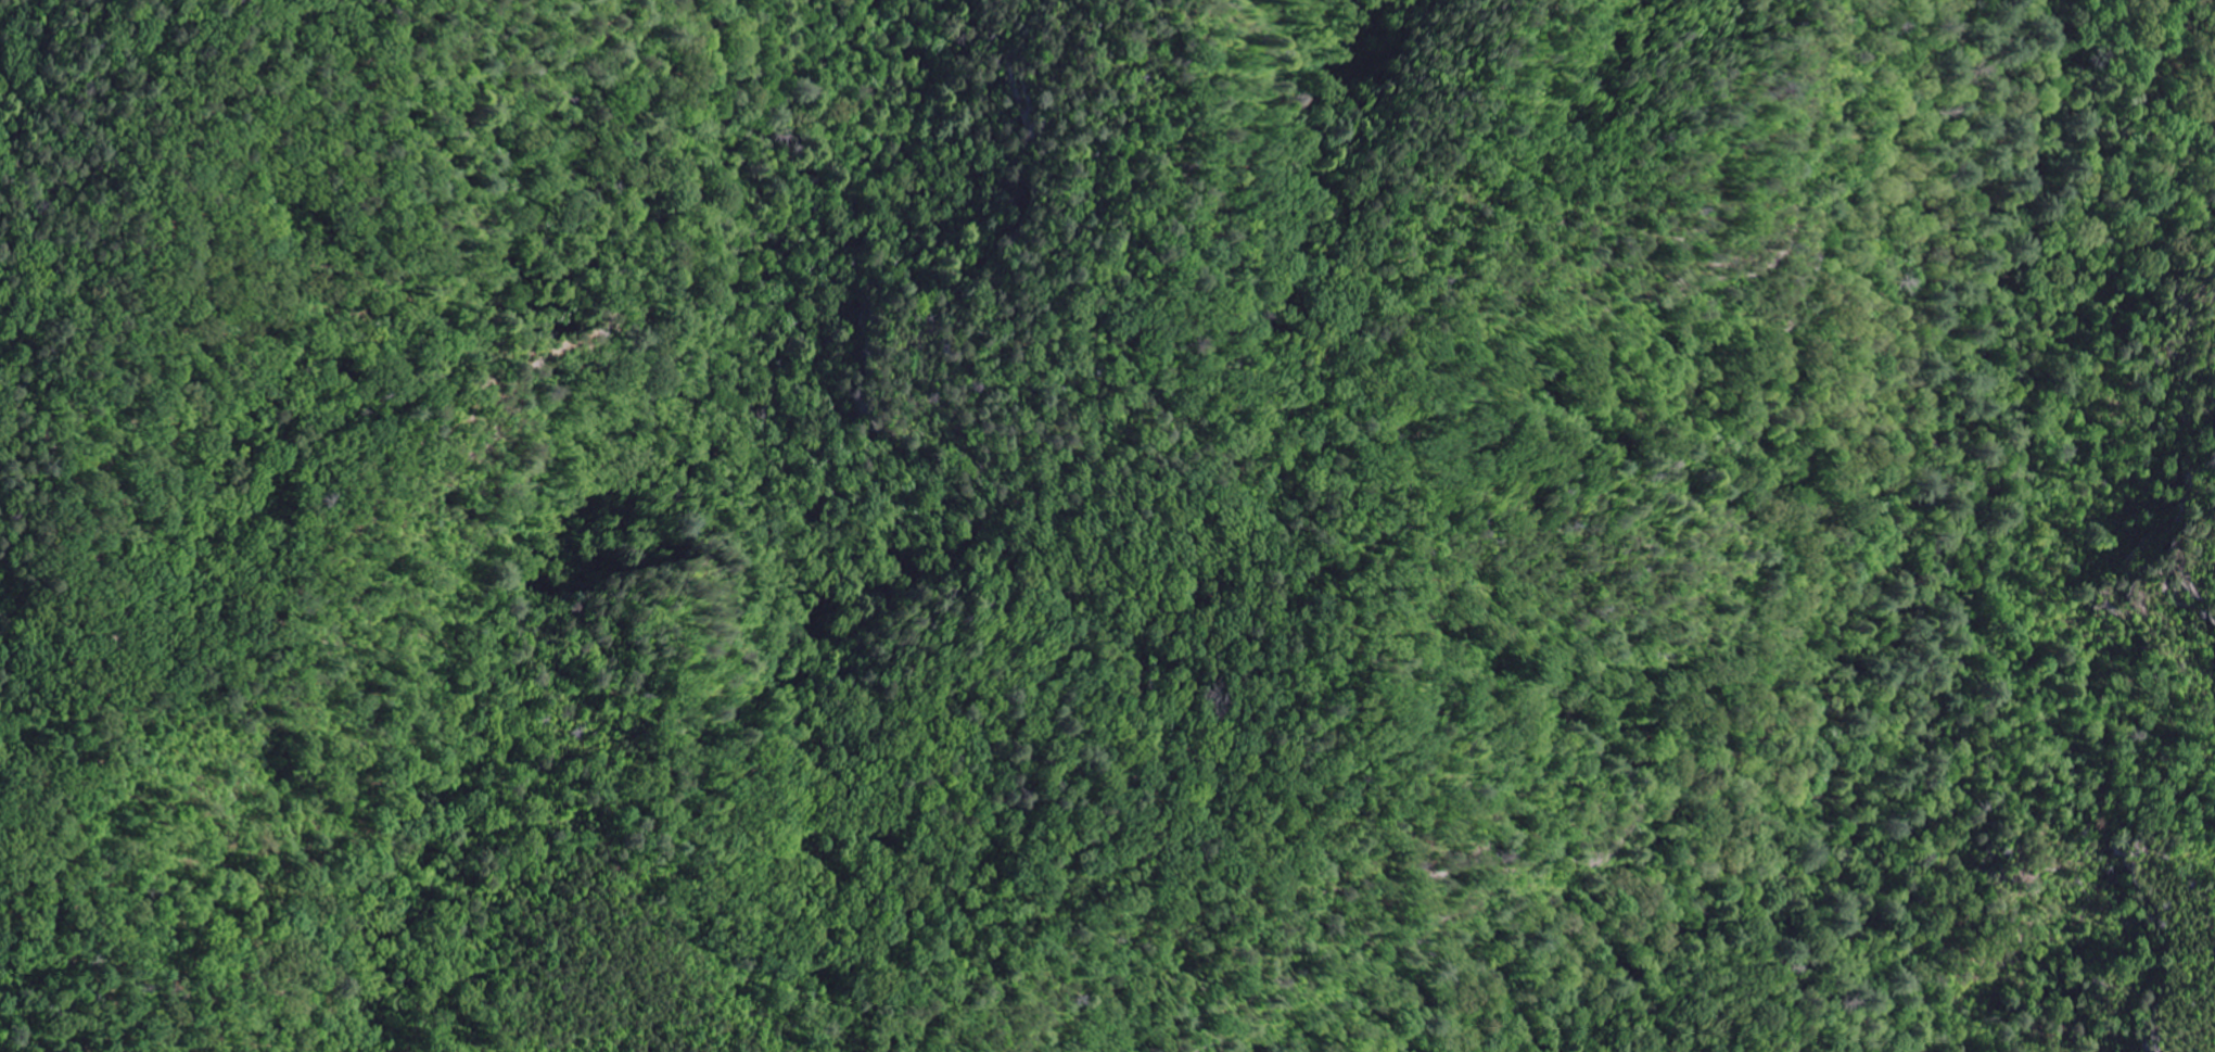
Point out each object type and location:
road: (679, 105)
road: (551, 212)
road: (160, 400)
road: (341, 477)

